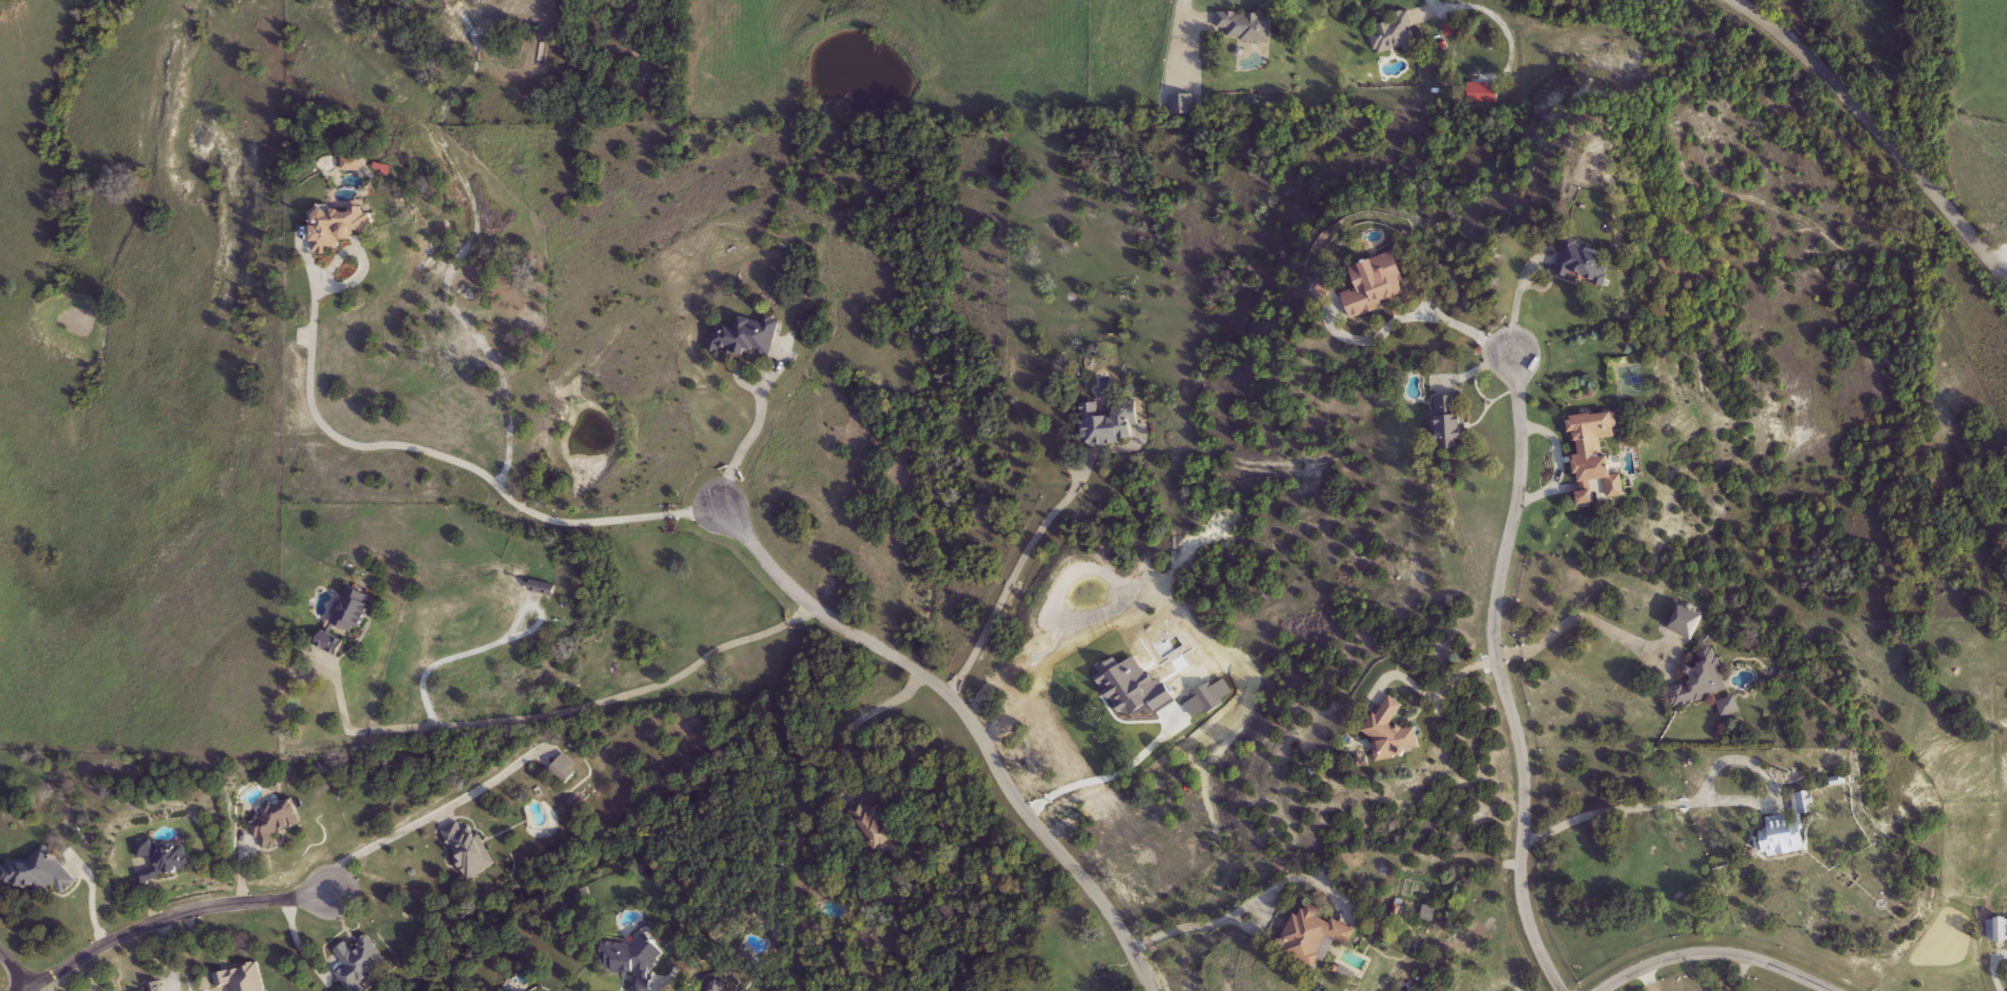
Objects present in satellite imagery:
building: (1247, 27)
building: (1393, 35)
building: (1183, 105)
road: (1874, 122)
building: (354, 165)
building: (340, 229)
road: (466, 244)
road: (2006, 259)
building: (1584, 263)
road: (1524, 270)
building: (1376, 286)
road: (1424, 308)
building: (748, 339)
building: (1450, 422)
building: (1108, 427)
road: (754, 429)
road: (451, 459)
building: (1597, 470)
road: (1009, 574)
building: (544, 588)
building: (346, 618)
road: (1571, 623)
road: (486, 644)
road: (1502, 678)
building: (1700, 681)
road: (1440, 695)
road: (566, 707)
road: (971, 719)
road: (860, 720)
building: (1390, 732)
building: (565, 768)
road: (1108, 775)
road: (1707, 801)
building: (1803, 803)
road: (416, 820)
building: (869, 821)
building: (274, 822)
building: (1780, 836)
building: (470, 848)
building: (160, 861)
building: (40, 873)
road: (1245, 912)
building: (1428, 914)
road: (173, 918)
building: (1997, 931)
building: (1313, 934)
road: (1717, 955)
building: (632, 961)
building: (362, 962)
road: (14, 969)
road: (1740, 974)
building: (242, 979)
building: (157, 986)
road: (26, 989)

